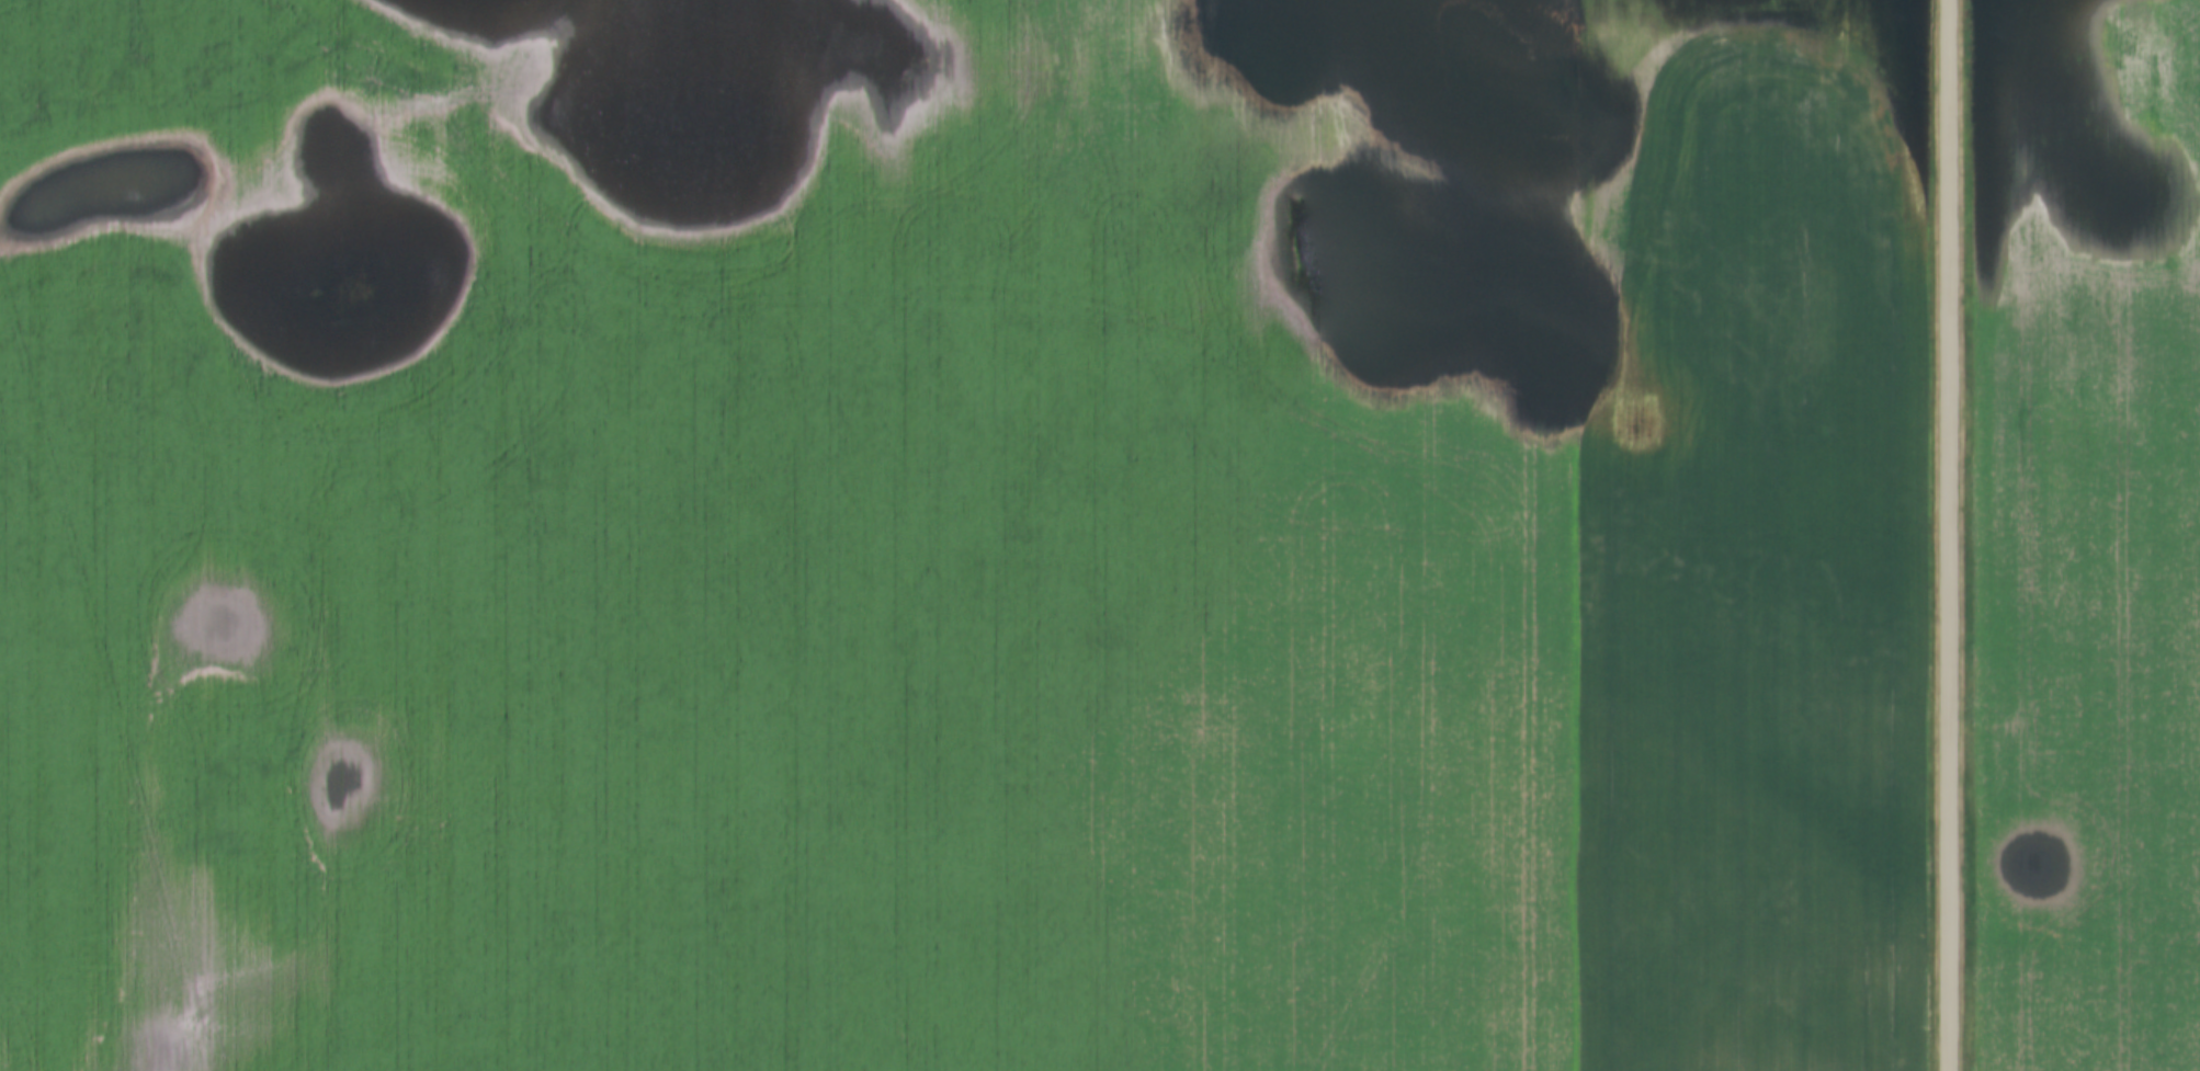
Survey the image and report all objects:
road: (1947, 535)

